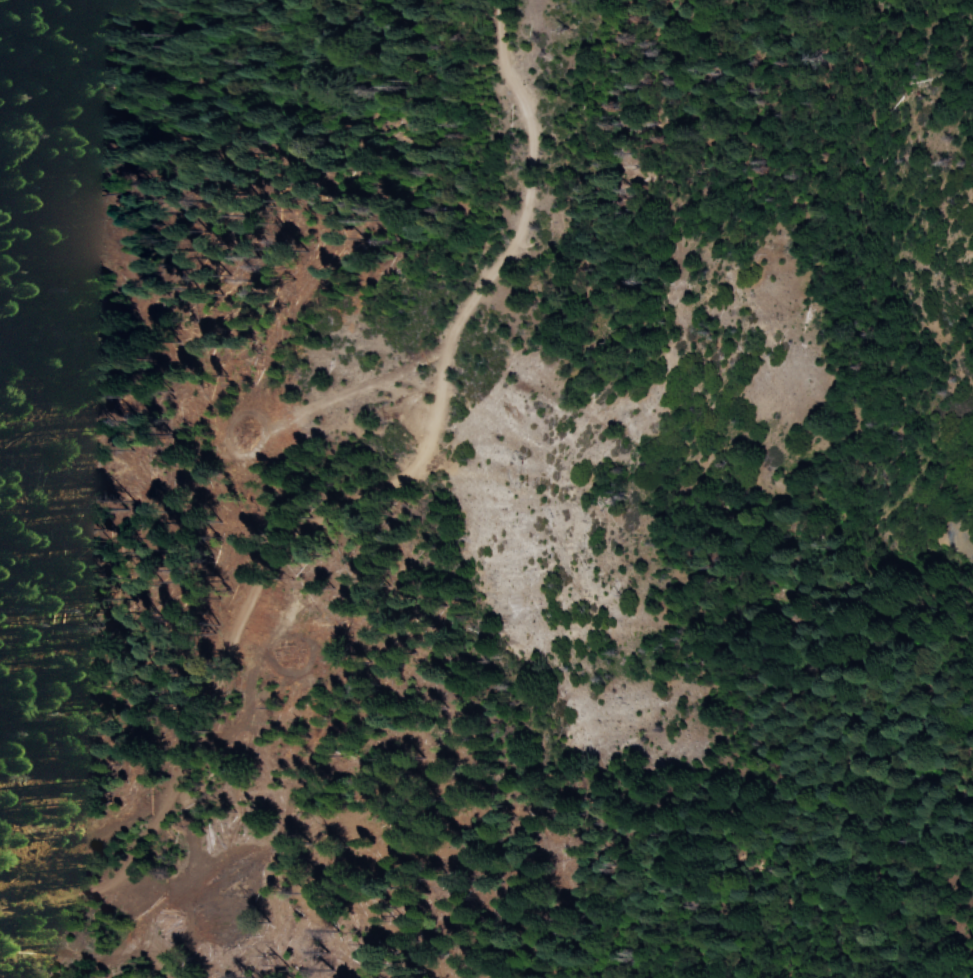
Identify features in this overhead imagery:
road: (392, 529)

